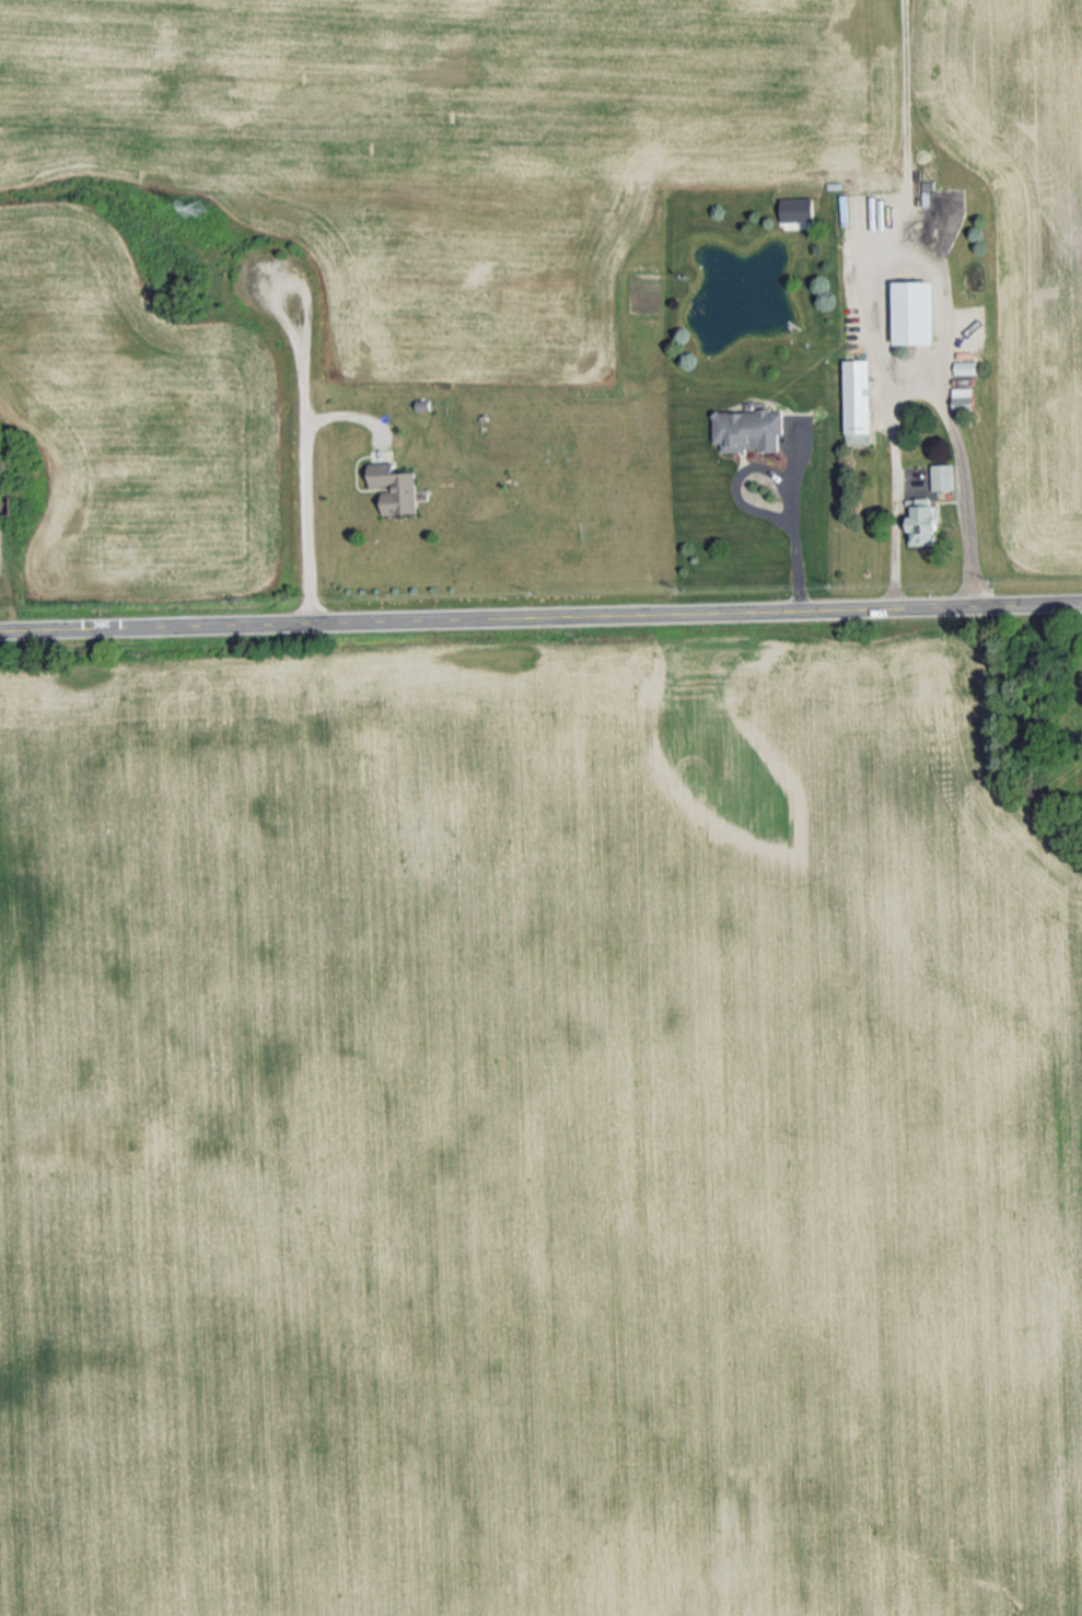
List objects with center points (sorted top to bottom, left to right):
power tower: (194, 204)
building: (798, 208)
crop: (357, 217)
crop: (1024, 237)
building: (908, 311)
building: (966, 365)
road: (918, 381)
building: (857, 395)
building: (963, 397)
building: (748, 428)
road: (304, 453)
building: (943, 475)
building: (394, 486)
road: (791, 516)
building: (922, 520)
road: (540, 619)

